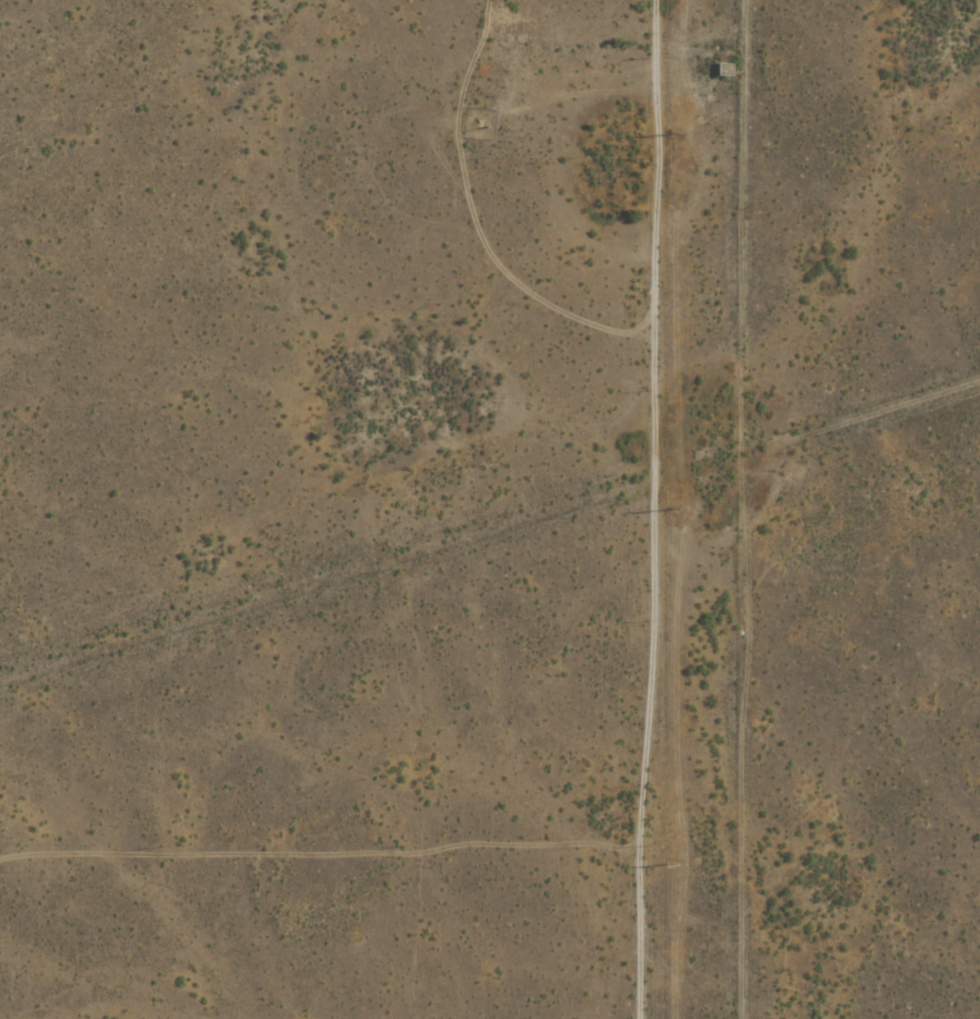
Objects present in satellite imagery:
power tower: (671, 133)
power tower: (671, 510)
power tower: (671, 865)

